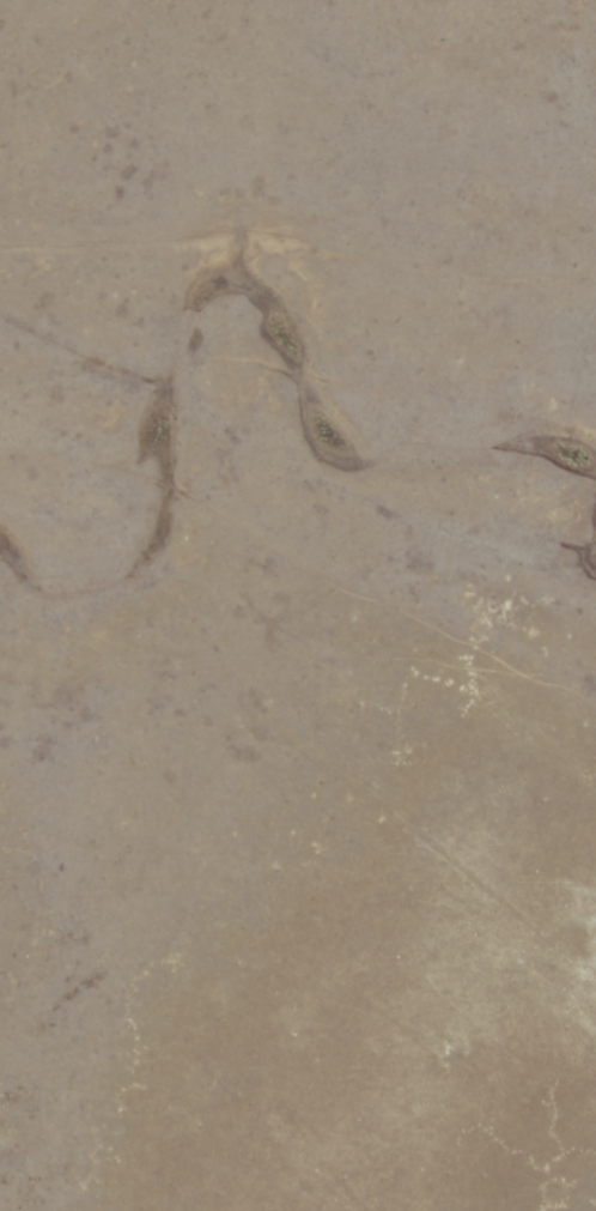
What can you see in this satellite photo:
road: (484, 61)

